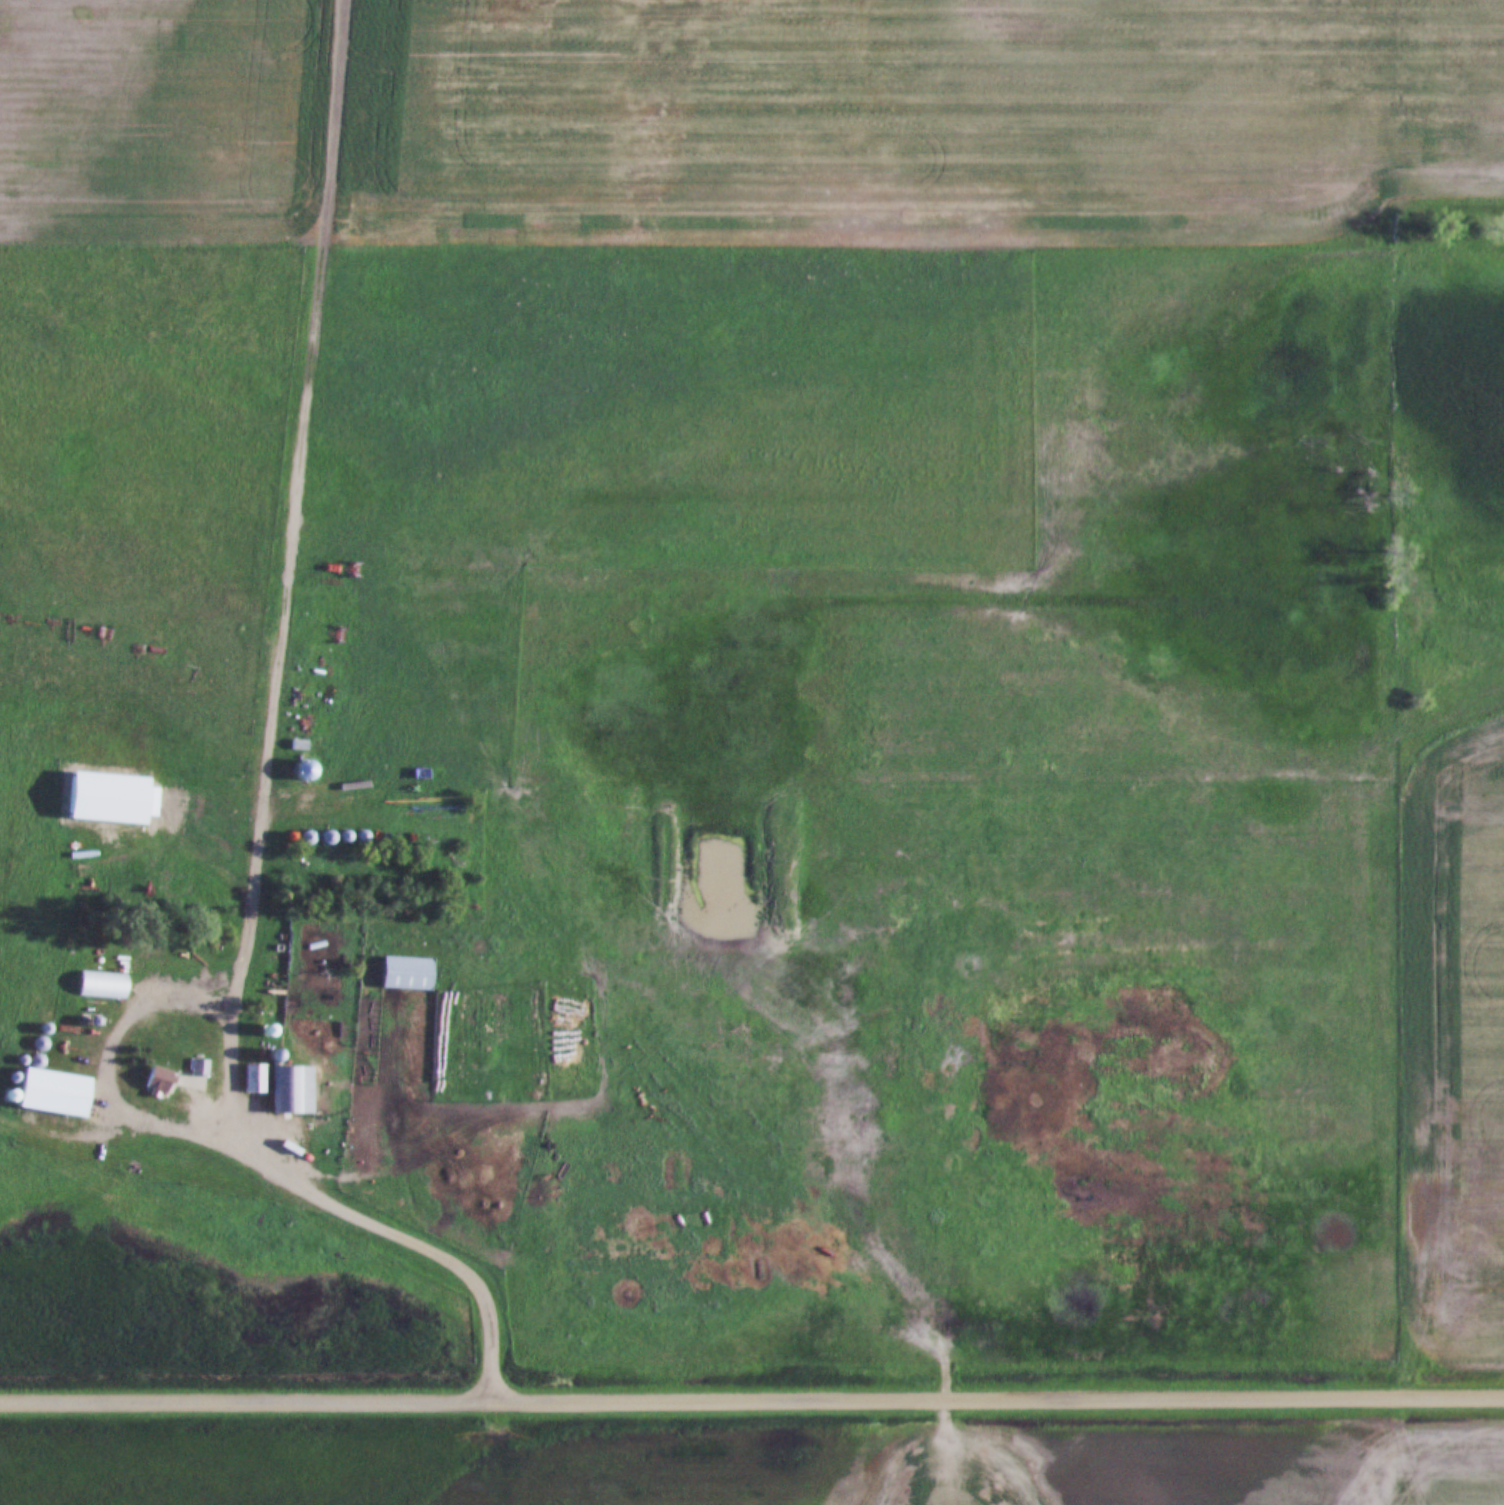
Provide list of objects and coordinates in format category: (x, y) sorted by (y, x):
road: (296, 518)
building: (411, 962)
building: (107, 976)
building: (330, 1037)
building: (260, 1064)
building: (199, 1068)
building: (61, 1077)
building: (292, 1077)
building: (255, 1079)
building: (562, 1080)
building: (159, 1083)
road: (235, 1100)
road: (752, 1400)

